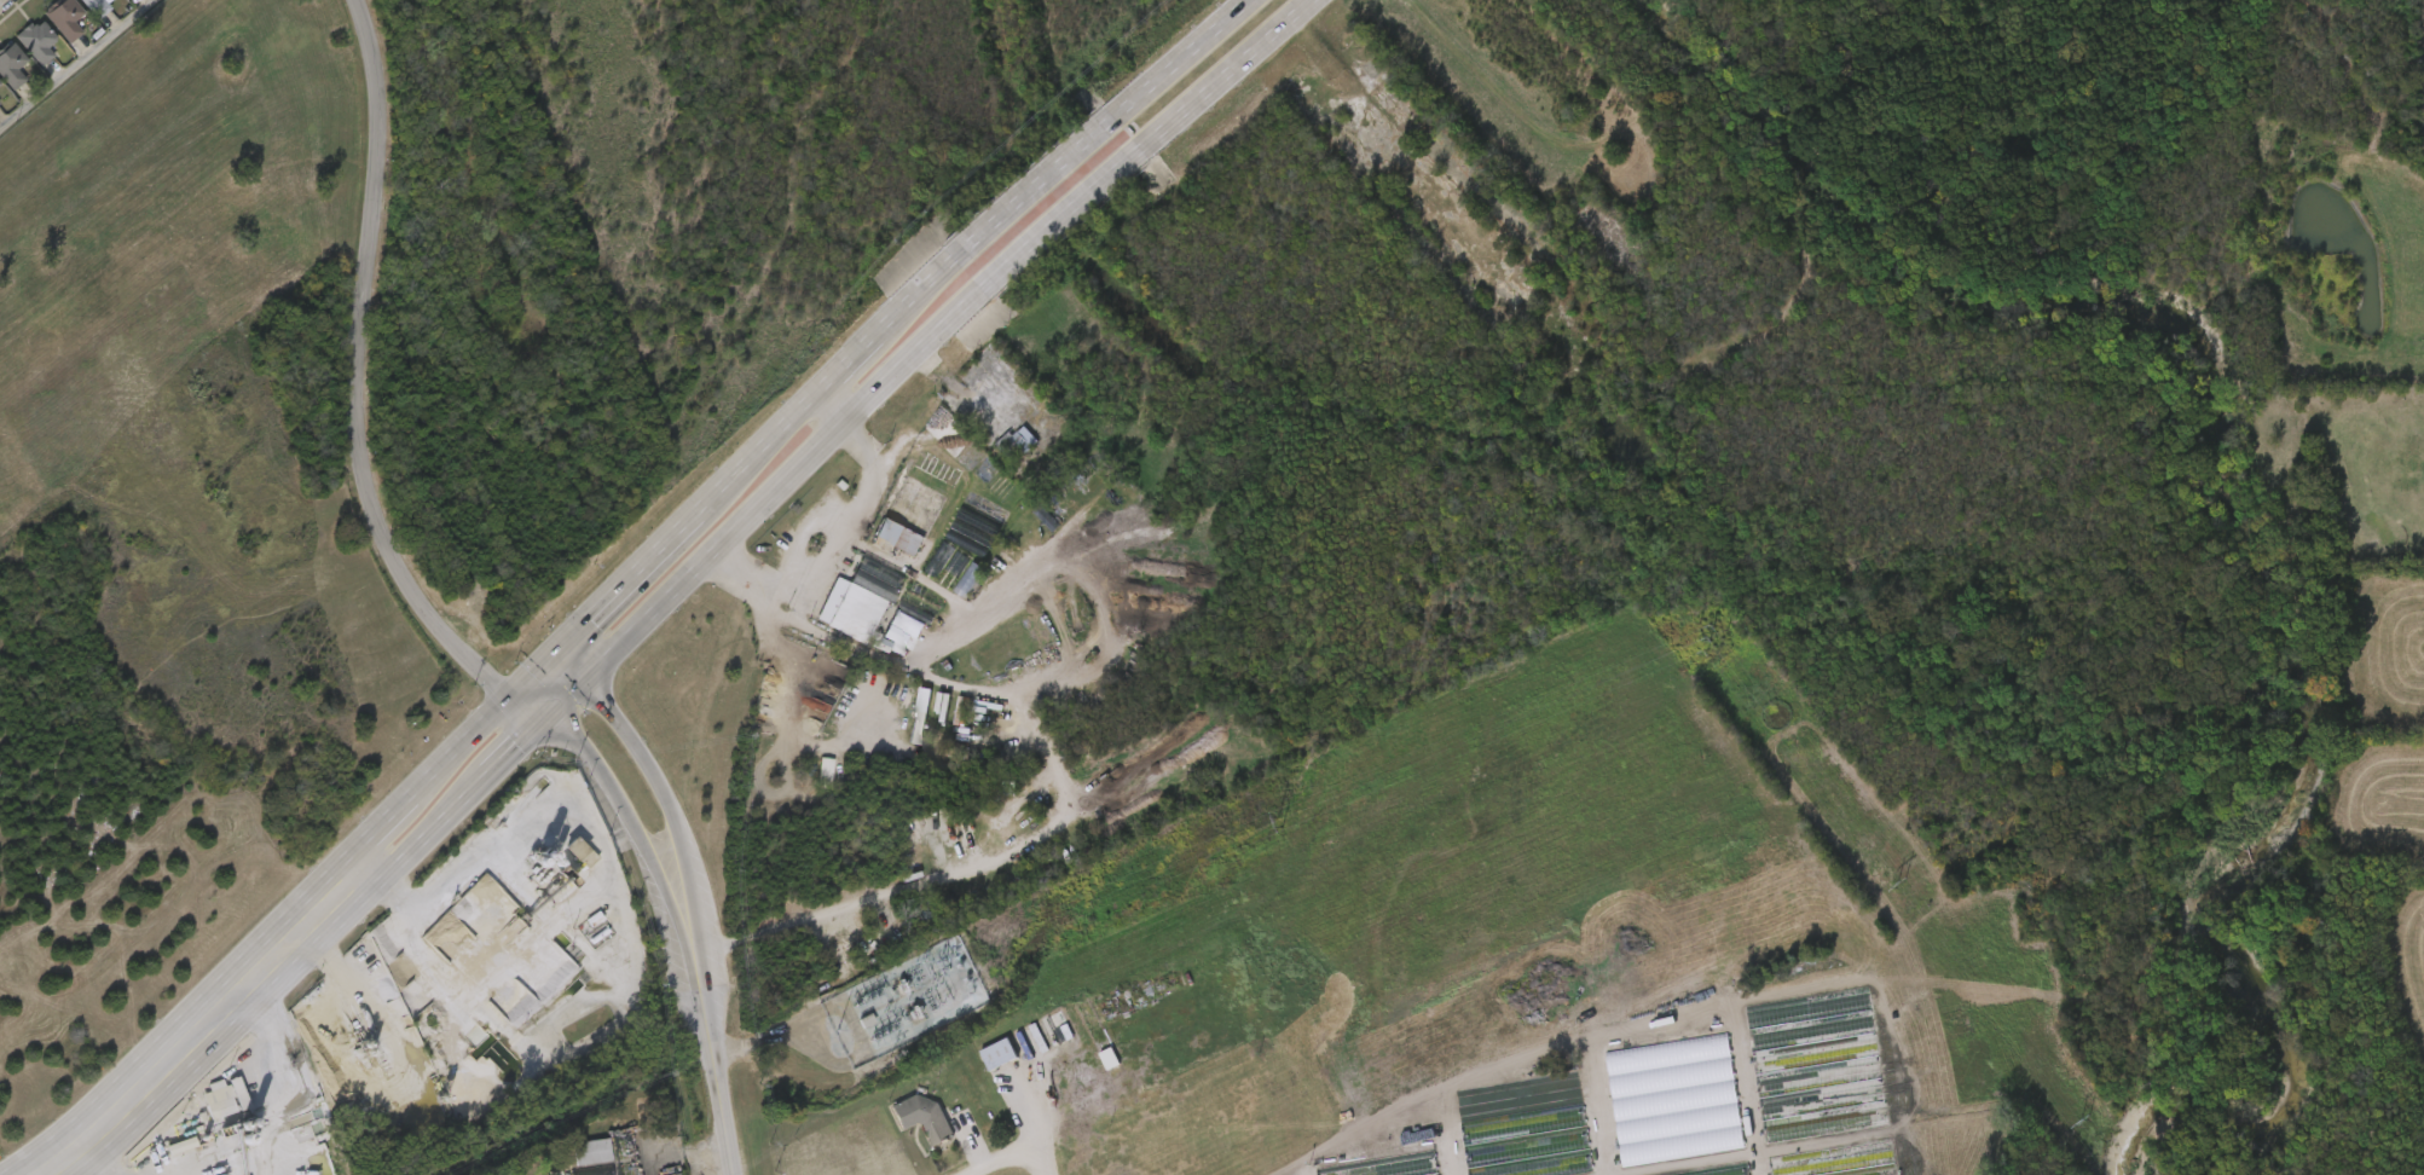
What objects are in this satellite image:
road: (2, 1)
building: (97, 4)
building: (65, 15)
building: (36, 39)
road: (74, 62)
building: (11, 63)
building: (0, 80)
building: (1, 100)
road: (937, 334)
road: (877, 341)
road: (359, 371)
road: (834, 410)
building: (995, 463)
road: (825, 540)
building: (878, 558)
building: (947, 602)
building: (837, 623)
building: (885, 646)
traffic signals: (553, 659)
road: (565, 671)
traffic signals: (578, 683)
traffic signals: (515, 695)
road: (607, 712)
traffic signals: (544, 718)
road: (481, 728)
building: (898, 737)
road: (601, 775)
road: (666, 804)
road: (403, 806)
road: (1064, 817)
building: (554, 869)
road: (614, 884)
road: (329, 931)
road: (410, 939)
road: (242, 991)
road: (187, 1018)
road: (706, 1020)
building: (977, 1076)
road: (1026, 1106)
building: (903, 1139)
building: (591, 1151)
road: (1019, 1154)
road: (683, 1164)
building: (571, 1168)

